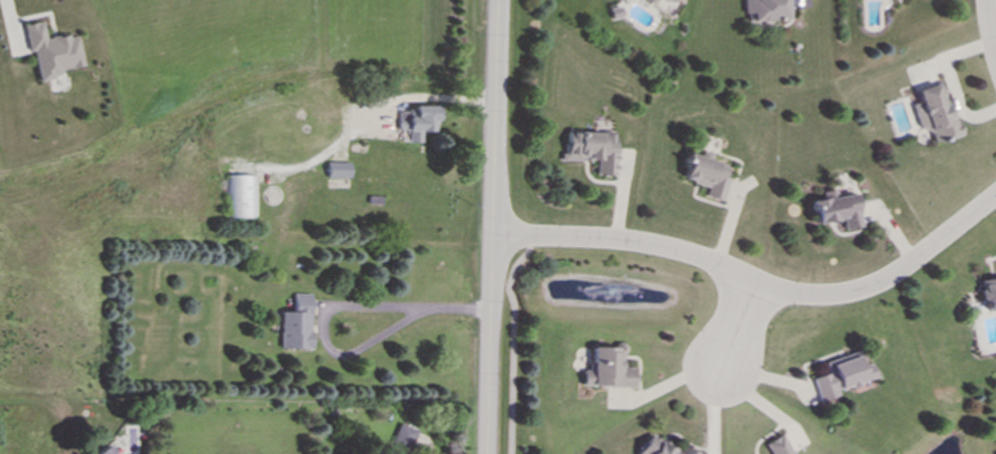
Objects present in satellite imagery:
building: (668, 1)
building: (765, 10)
road: (991, 30)
building: (51, 52)
road: (378, 111)
building: (933, 113)
building: (416, 122)
building: (592, 150)
building: (337, 170)
building: (705, 175)
building: (241, 197)
building: (835, 210)
road: (494, 227)
road: (758, 283)
building: (989, 294)
road: (332, 306)
building: (295, 324)
road: (739, 326)
road: (513, 341)
building: (607, 369)
building: (840, 376)
building: (402, 439)
building: (777, 446)
building: (659, 448)
building: (105, 450)

